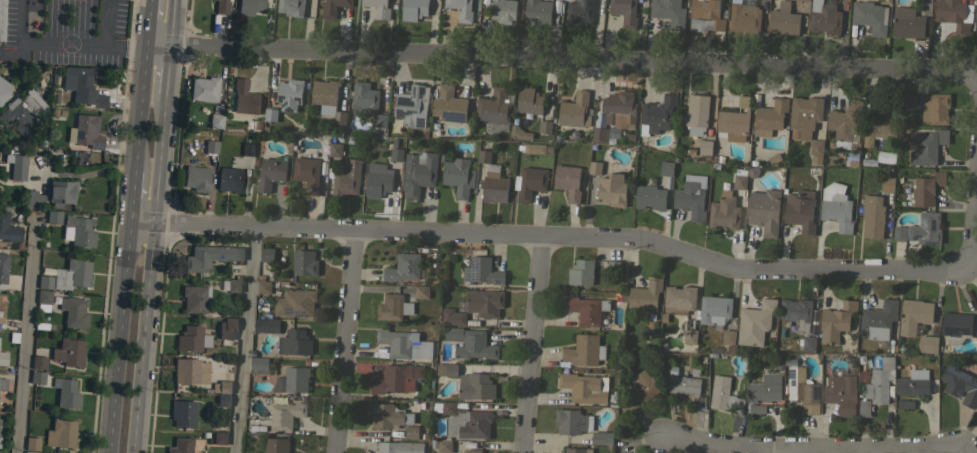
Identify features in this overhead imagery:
building: (249, 6)
building: (221, 7)
building: (291, 7)
building: (333, 7)
building: (378, 8)
building: (413, 9)
building: (461, 9)
building: (503, 11)
building: (537, 12)
building: (579, 12)
building: (624, 12)
building: (668, 12)
building: (954, 14)
building: (705, 16)
building: (870, 16)
building: (744, 17)
building: (824, 17)
building: (1, 19)
building: (783, 19)
road: (146, 20)
road: (169, 21)
building: (907, 22)
road: (105, 42)
road: (560, 58)
road: (165, 68)
building: (82, 87)
building: (203, 88)
building: (3, 89)
building: (324, 92)
building: (289, 93)
building: (244, 97)
building: (364, 99)
building: (529, 101)
building: (909, 102)
building: (449, 104)
road: (138, 105)
building: (411, 106)
building: (495, 106)
building: (935, 108)
building: (575, 110)
building: (22, 112)
building: (58, 113)
building: (271, 114)
building: (657, 114)
building: (696, 114)
building: (805, 114)
rooftop solar panel: (455, 115)
building: (615, 116)
building: (339, 117)
building: (769, 117)
building: (215, 120)
building: (380, 120)
building: (734, 121)
building: (881, 123)
building: (845, 124)
building: (544, 127)
building: (85, 131)
building: (520, 133)
rooftop solar panel: (76, 134)
rooftop solar panel: (96, 146)
building: (210, 146)
building: (705, 146)
building: (926, 146)
building: (534, 148)
building: (247, 149)
building: (335, 149)
building: (816, 151)
building: (484, 152)
building: (396, 154)
rooftop solar panel: (7, 158)
road: (157, 159)
building: (16, 166)
building: (594, 167)
building: (667, 168)
building: (270, 173)
building: (307, 173)
building: (418, 173)
building: (458, 176)
building: (196, 178)
building: (740, 178)
building: (230, 179)
building: (347, 179)
building: (568, 181)
building: (529, 182)
building: (887, 183)
building: (378, 184)
building: (494, 184)
building: (926, 188)
building: (612, 189)
building: (61, 192)
road: (130, 196)
building: (691, 196)
building: (33, 197)
building: (650, 197)
road: (973, 202)
building: (836, 206)
rooftop solar panel: (5, 208)
building: (764, 210)
building: (800, 210)
building: (724, 211)
building: (872, 216)
building: (53, 217)
rooftop solar panel: (922, 220)
road: (139, 223)
rooftop solar panel: (933, 223)
building: (8, 226)
building: (925, 228)
building: (78, 231)
building: (900, 233)
rooftop solar panel: (4, 236)
road: (562, 238)
building: (267, 254)
building: (211, 256)
building: (304, 262)
building: (613, 266)
building: (403, 267)
building: (3, 268)
building: (482, 270)
building: (581, 272)
building: (72, 274)
building: (44, 282)
building: (263, 284)
building: (231, 285)
building: (421, 291)
building: (645, 295)
building: (194, 298)
building: (43, 299)
building: (678, 300)
building: (1, 302)
building: (485, 302)
building: (295, 303)
building: (393, 307)
building: (586, 309)
rooftop solar panel: (288, 310)
building: (715, 310)
building: (0, 311)
building: (73, 312)
rooftop solar panel: (306, 313)
building: (796, 313)
rooftop solar panel: (298, 314)
building: (914, 315)
building: (453, 317)
building: (878, 320)
building: (836, 321)
building: (755, 322)
building: (230, 323)
building: (260, 325)
building: (956, 327)
road: (24, 335)
building: (690, 336)
road: (117, 337)
building: (191, 338)
road: (140, 339)
building: (728, 339)
road: (243, 341)
building: (295, 342)
road: (345, 343)
building: (470, 343)
building: (809, 343)
building: (928, 343)
building: (404, 344)
road: (530, 345)
building: (584, 350)
building: (68, 352)
building: (2, 358)
building: (38, 362)
building: (259, 363)
building: (445, 369)
building: (190, 371)
building: (37, 377)
building: (396, 378)
building: (292, 380)
building: (680, 381)
building: (913, 383)
building: (2, 384)
building: (959, 384)
building: (475, 386)
building: (876, 386)
building: (221, 387)
building: (584, 387)
building: (765, 388)
building: (802, 390)
building: (640, 391)
building: (66, 392)
building: (841, 393)
building: (724, 395)
building: (223, 399)
building: (905, 404)
building: (755, 408)
building: (182, 413)
building: (285, 415)
building: (388, 415)
building: (464, 419)
building: (572, 421)
building: (411, 431)
building: (60, 434)
building: (219, 437)
building: (602, 438)
building: (31, 443)
building: (180, 445)
building: (276, 445)
building: (444, 445)
building: (400, 447)
road: (815, 449)
building: (577, 450)
building: (472, 451)
road: (788, 451)
building: (30, 452)

